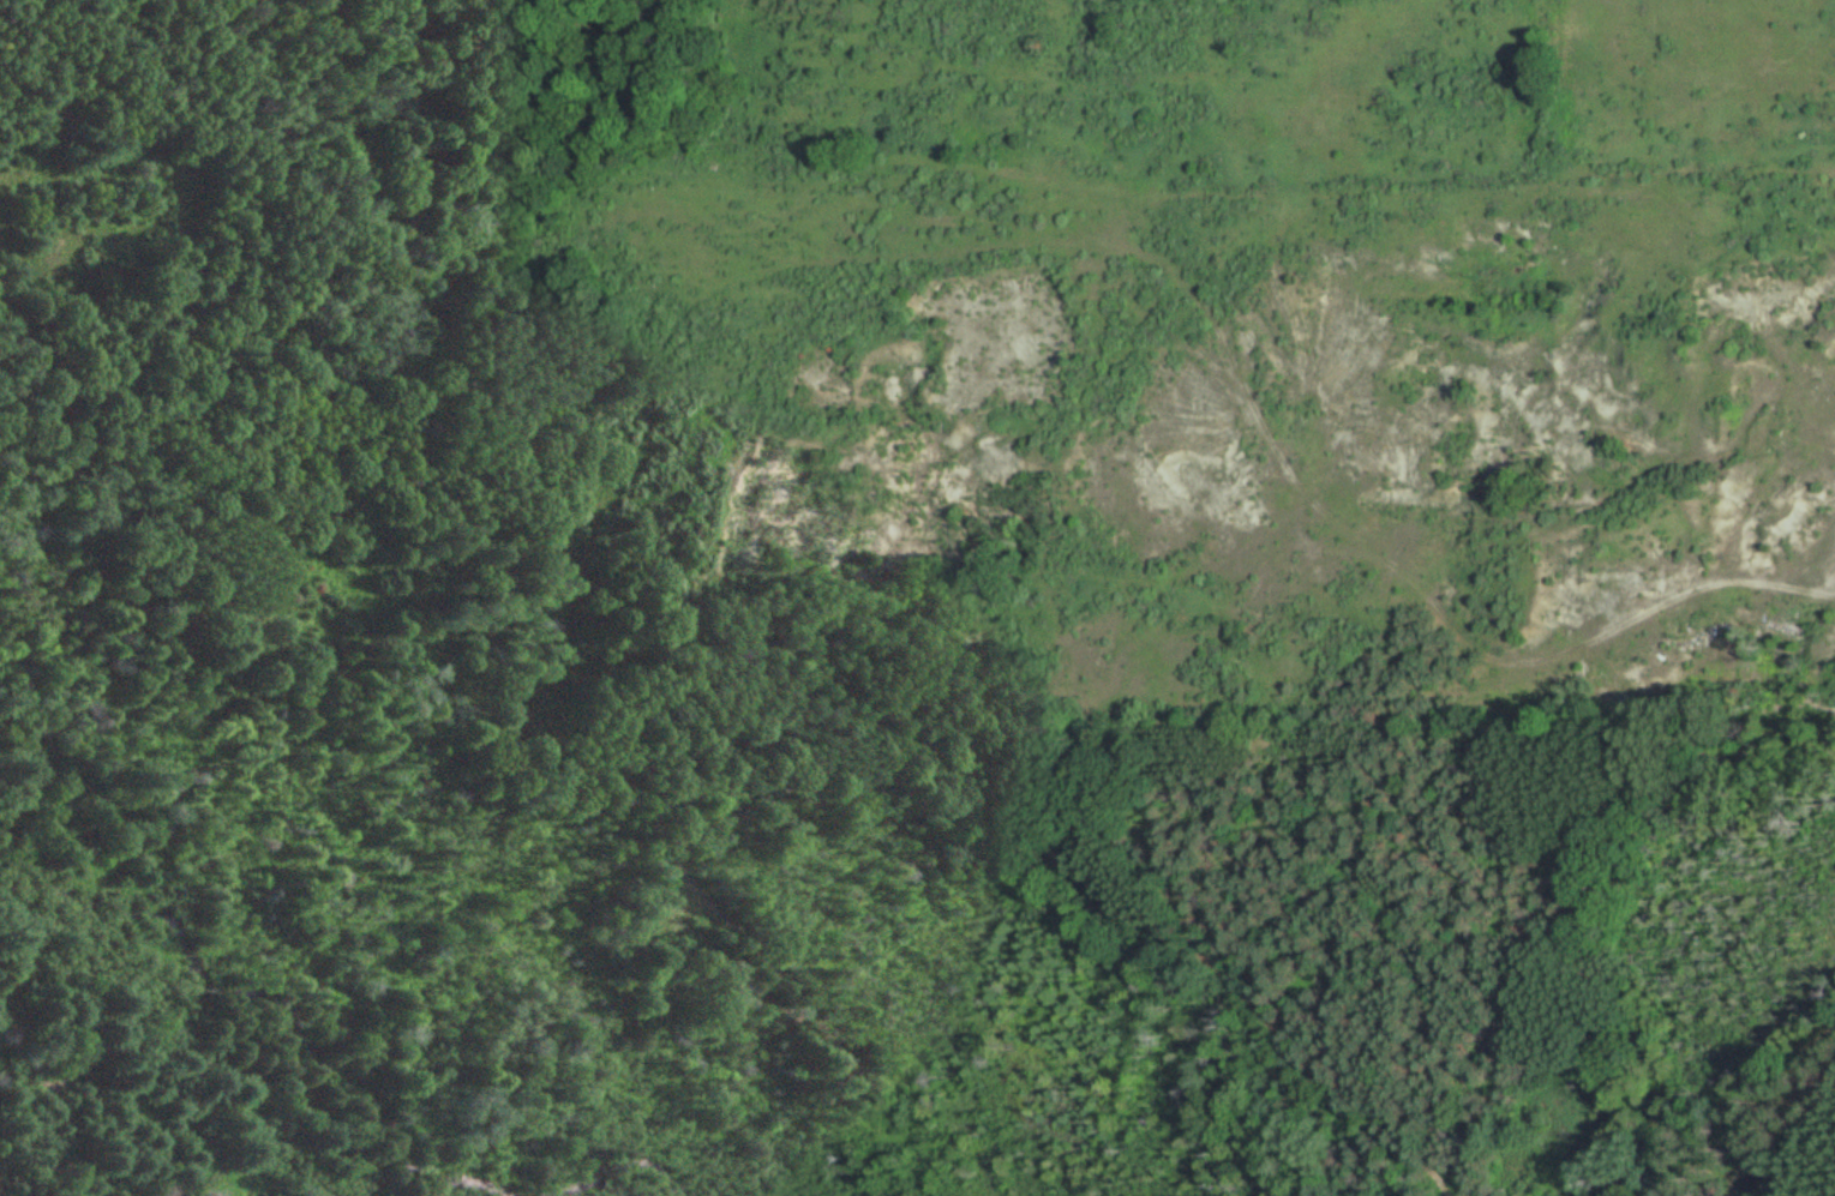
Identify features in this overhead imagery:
road: (1558, 663)

